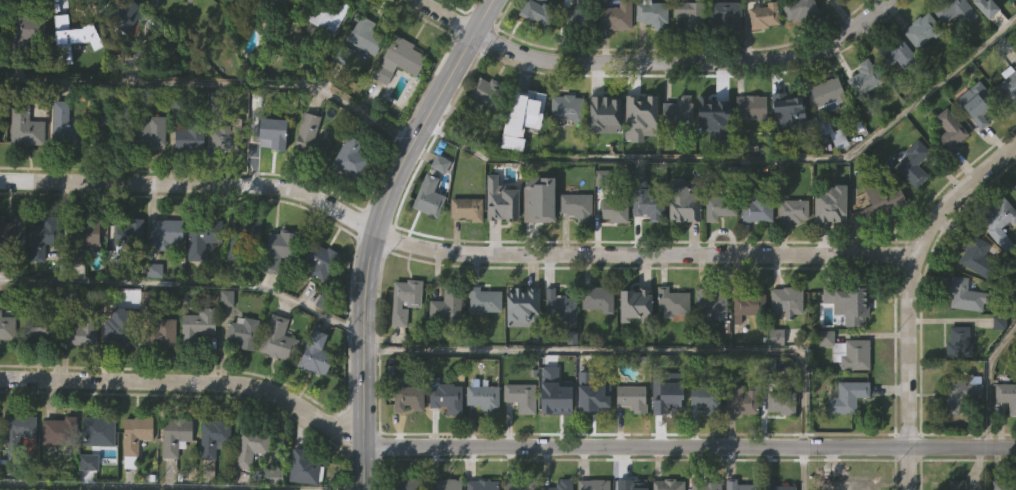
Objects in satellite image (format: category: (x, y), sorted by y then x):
building: (974, 0)
building: (166, 1)
building: (426, 2)
building: (1000, 3)
building: (269, 6)
building: (858, 6)
building: (797, 8)
building: (536, 10)
building: (950, 10)
building: (121, 11)
building: (688, 11)
building: (324, 13)
building: (454, 13)
road: (454, 13)
building: (651, 13)
building: (764, 13)
building: (723, 14)
building: (614, 15)
building: (143, 17)
building: (578, 17)
building: (748, 24)
building: (830, 27)
building: (921, 29)
building: (80, 31)
building: (24, 32)
building: (977, 34)
building: (272, 38)
building: (356, 40)
building: (534, 45)
building: (796, 48)
building: (895, 52)
building: (952, 52)
building: (649, 55)
building: (687, 55)
building: (723, 55)
building: (613, 57)
building: (762, 57)
building: (325, 58)
building: (396, 58)
building: (576, 60)
road: (687, 61)
building: (919, 71)
building: (21, 72)
building: (72, 74)
building: (864, 76)
building: (364, 78)
road: (215, 80)
building: (1007, 84)
building: (484, 91)
building: (826, 92)
building: (893, 95)
building: (397, 101)
building: (788, 101)
building: (975, 101)
building: (526, 104)
building: (564, 106)
building: (603, 106)
building: (639, 106)
building: (749, 107)
building: (3, 108)
building: (711, 108)
building: (675, 110)
building: (862, 119)
building: (23, 124)
building: (1007, 124)
building: (63, 126)
building: (948, 129)
building: (106, 131)
building: (152, 131)
building: (224, 133)
building: (188, 134)
building: (484, 134)
building: (266, 136)
building: (825, 136)
building: (308, 138)
building: (786, 145)
building: (974, 146)
building: (563, 149)
building: (710, 149)
building: (748, 149)
building: (676, 152)
building: (349, 154)
road: (740, 155)
building: (602, 156)
building: (520, 158)
building: (637, 159)
building: (912, 163)
building: (100, 165)
building: (63, 169)
building: (23, 171)
building: (948, 173)
building: (149, 174)
building: (267, 178)
building: (308, 178)
building: (223, 179)
building: (186, 180)
building: (835, 180)
building: (1015, 185)
building: (426, 195)
building: (880, 198)
building: (644, 199)
building: (349, 200)
building: (502, 200)
building: (687, 200)
building: (574, 205)
building: (832, 205)
building: (910, 206)
building: (464, 207)
building: (718, 207)
building: (756, 207)
building: (538, 208)
building: (613, 208)
building: (792, 209)
building: (998, 214)
building: (1014, 229)
road: (376, 231)
building: (167, 232)
building: (11, 233)
building: (40, 236)
building: (199, 236)
building: (238, 236)
building: (80, 237)
building: (426, 238)
building: (883, 239)
building: (641, 240)
building: (536, 241)
building: (126, 242)
building: (499, 242)
building: (681, 243)
building: (827, 245)
building: (573, 247)
building: (276, 248)
building: (717, 249)
road: (452, 250)
building: (464, 250)
building: (754, 251)
building: (790, 252)
building: (975, 255)
building: (317, 260)
building: (996, 262)
building: (12, 269)
building: (246, 270)
building: (126, 273)
building: (164, 275)
building: (85, 276)
building: (41, 279)
road: (186, 282)
building: (198, 282)
building: (277, 291)
road: (906, 295)
building: (963, 295)
building: (596, 298)
building: (847, 298)
building: (402, 299)
building: (482, 299)
building: (785, 299)
building: (671, 301)
building: (316, 302)
building: (747, 303)
building: (444, 304)
building: (559, 305)
building: (638, 306)
building: (707, 306)
building: (524, 307)
building: (152, 312)
building: (35, 324)
building: (195, 324)
building: (6, 327)
building: (81, 329)
building: (241, 332)
building: (119, 333)
building: (160, 333)
building: (276, 338)
building: (224, 339)
building: (596, 340)
building: (402, 341)
building: (482, 341)
building: (957, 342)
building: (783, 343)
building: (633, 344)
building: (670, 344)
building: (708, 346)
building: (746, 347)
building: (444, 348)
building: (520, 348)
building: (558, 349)
road: (626, 350)
building: (846, 350)
building: (312, 353)
building: (196, 366)
building: (6, 369)
building: (33, 373)
building: (79, 374)
building: (159, 374)
building: (242, 374)
building: (115, 375)
building: (773, 378)
building: (276, 379)
road: (988, 382)
building: (962, 389)
building: (1006, 395)
building: (314, 396)
building: (405, 396)
building: (519, 396)
building: (846, 396)
building: (443, 397)
building: (482, 397)
building: (594, 397)
building: (630, 398)
building: (704, 398)
building: (666, 399)
building: (740, 399)
building: (556, 401)
building: (780, 402)
building: (97, 429)
building: (14, 430)
building: (56, 430)
building: (173, 435)
building: (211, 436)
building: (959, 437)
building: (132, 438)
building: (406, 438)
building: (519, 438)
building: (845, 438)
building: (1005, 438)
building: (444, 439)
building: (483, 439)
building: (629, 439)
building: (701, 439)
building: (593, 441)
building: (665, 441)
building: (738, 441)
building: (554, 443)
building: (779, 445)
building: (248, 446)
road: (500, 447)
building: (302, 468)
road: (802, 468)
building: (15, 471)
building: (98, 471)
building: (57, 472)
building: (134, 472)
building: (174, 474)
building: (213, 476)
building: (251, 481)
building: (407, 484)
building: (443, 484)
building: (484, 484)
building: (560, 484)
building: (591, 484)
building: (634, 484)
building: (705, 484)
building: (844, 484)
building: (955, 484)
building: (1003, 484)
building: (519, 485)
building: (666, 485)
building: (737, 485)
building: (774, 485)
building: (295, 489)

